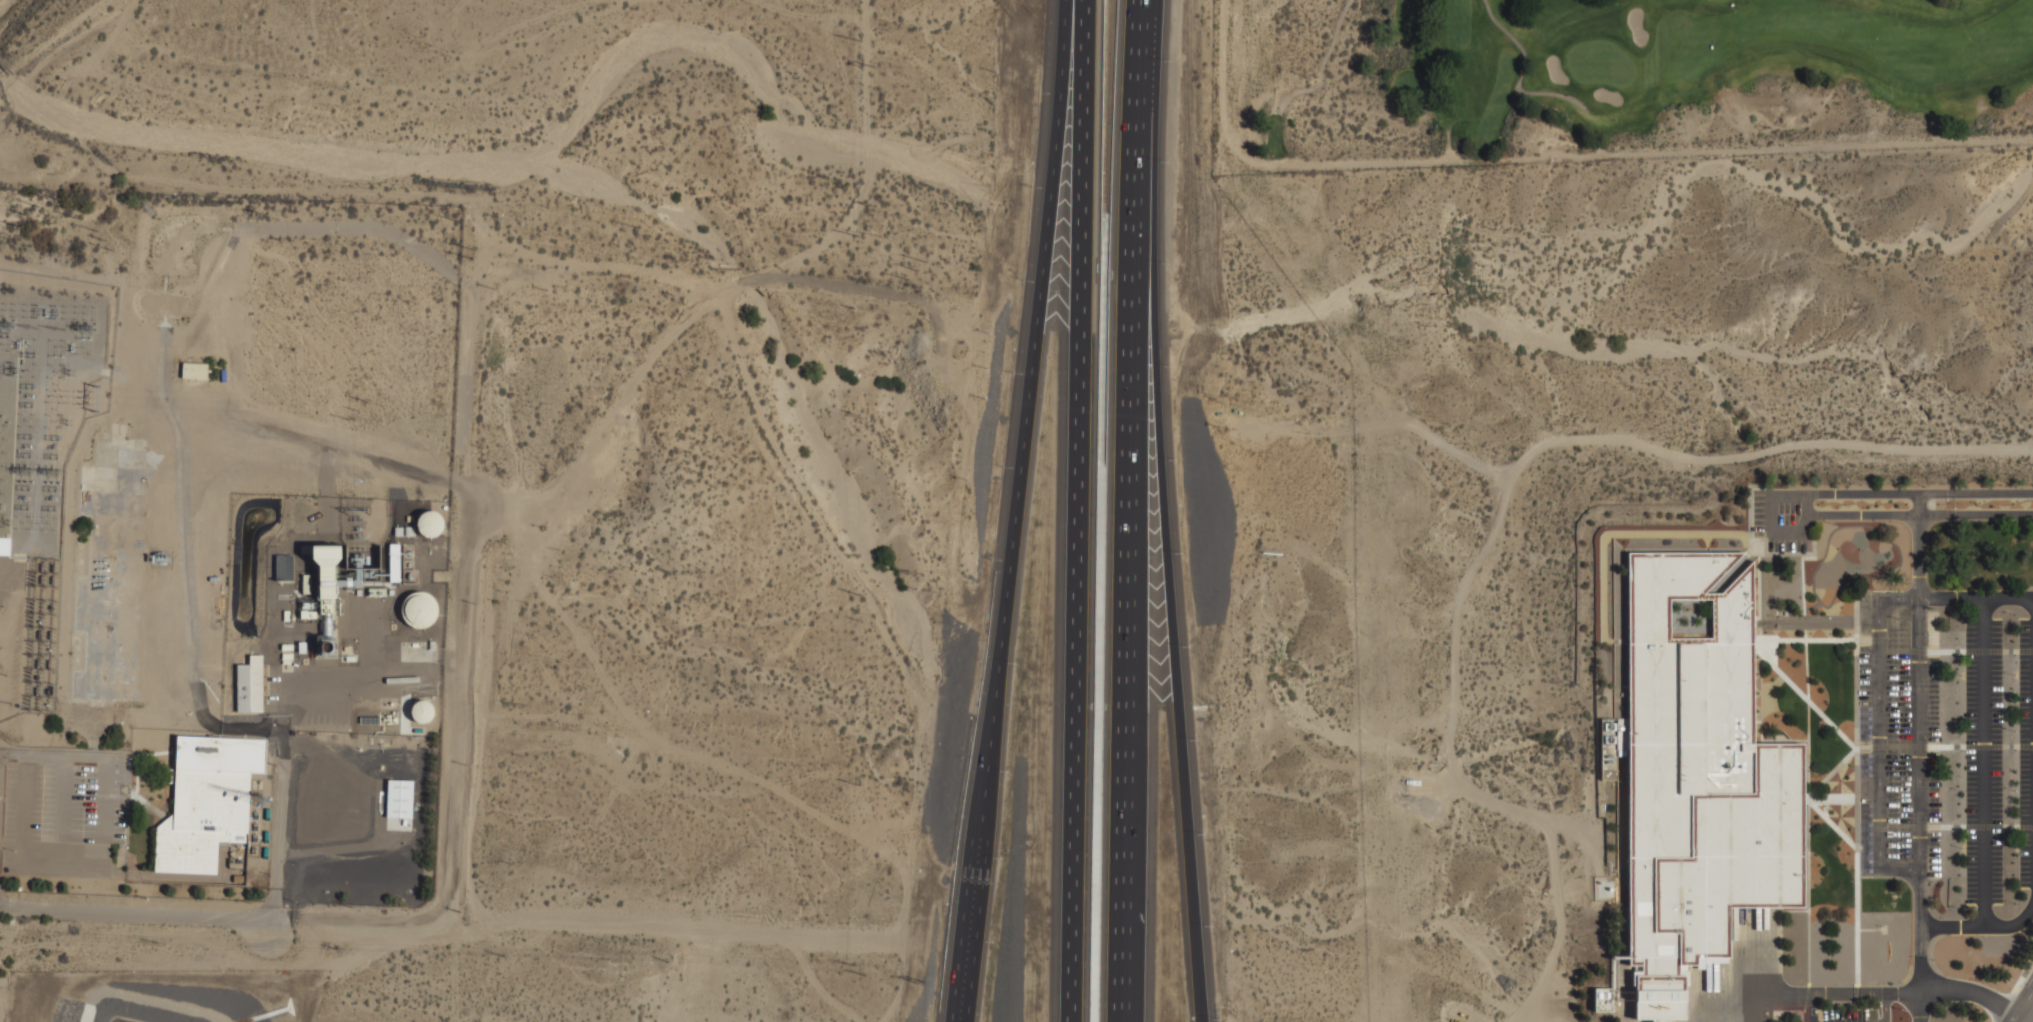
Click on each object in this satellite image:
road: (1522, 72)
park: (1610, 79)
power tower: (29, 221)
power tower: (2, 320)
power tower: (24, 323)
building: (194, 370)
road: (1132, 381)
power substation: (42, 454)
road: (1919, 492)
road: (1788, 494)
road: (1015, 510)
road: (1068, 511)
road: (1771, 512)
road: (1911, 516)
parking lot: (1784, 517)
road: (1806, 521)
building: (430, 523)
storage tank: (430, 523)
road: (1786, 530)
building: (4, 543)
building: (395, 562)
building: (284, 567)
road: (1950, 597)
road: (1169, 598)
building: (419, 608)
storage tank: (419, 608)
power plant: (333, 612)
chimney: (330, 649)
road: (1892, 650)
building: (250, 684)
building: (422, 711)
storage tank: (422, 711)
road: (1869, 746)
road: (1880, 751)
parking lot: (1949, 754)
road: (1919, 757)
road: (1984, 761)
road: (1808, 772)
building: (1698, 779)
road: (1856, 788)
road: (1815, 789)
building: (208, 800)
building: (400, 807)
road: (279, 811)
road: (1832, 821)
road: (1944, 825)
road: (1123, 892)
road: (136, 913)
road: (1980, 925)
road: (1895, 990)
road: (2014, 993)
building: (1603, 999)
road: (2022, 1004)
road: (1727, 1005)
road: (1808, 1006)
parking lot: (1865, 1012)

